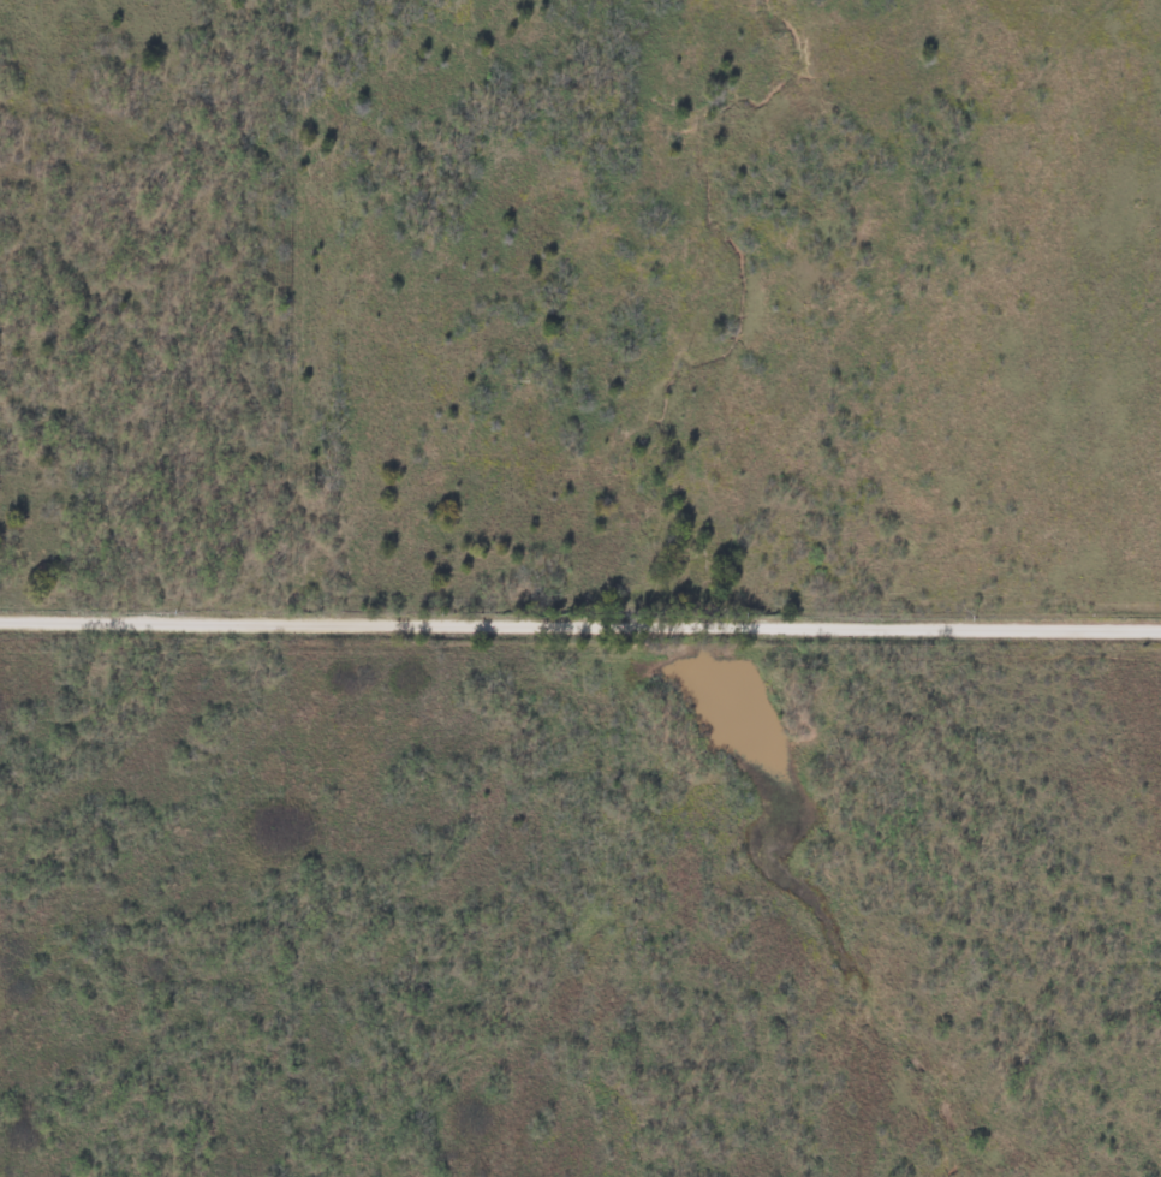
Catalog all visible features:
road: (580, 628)

